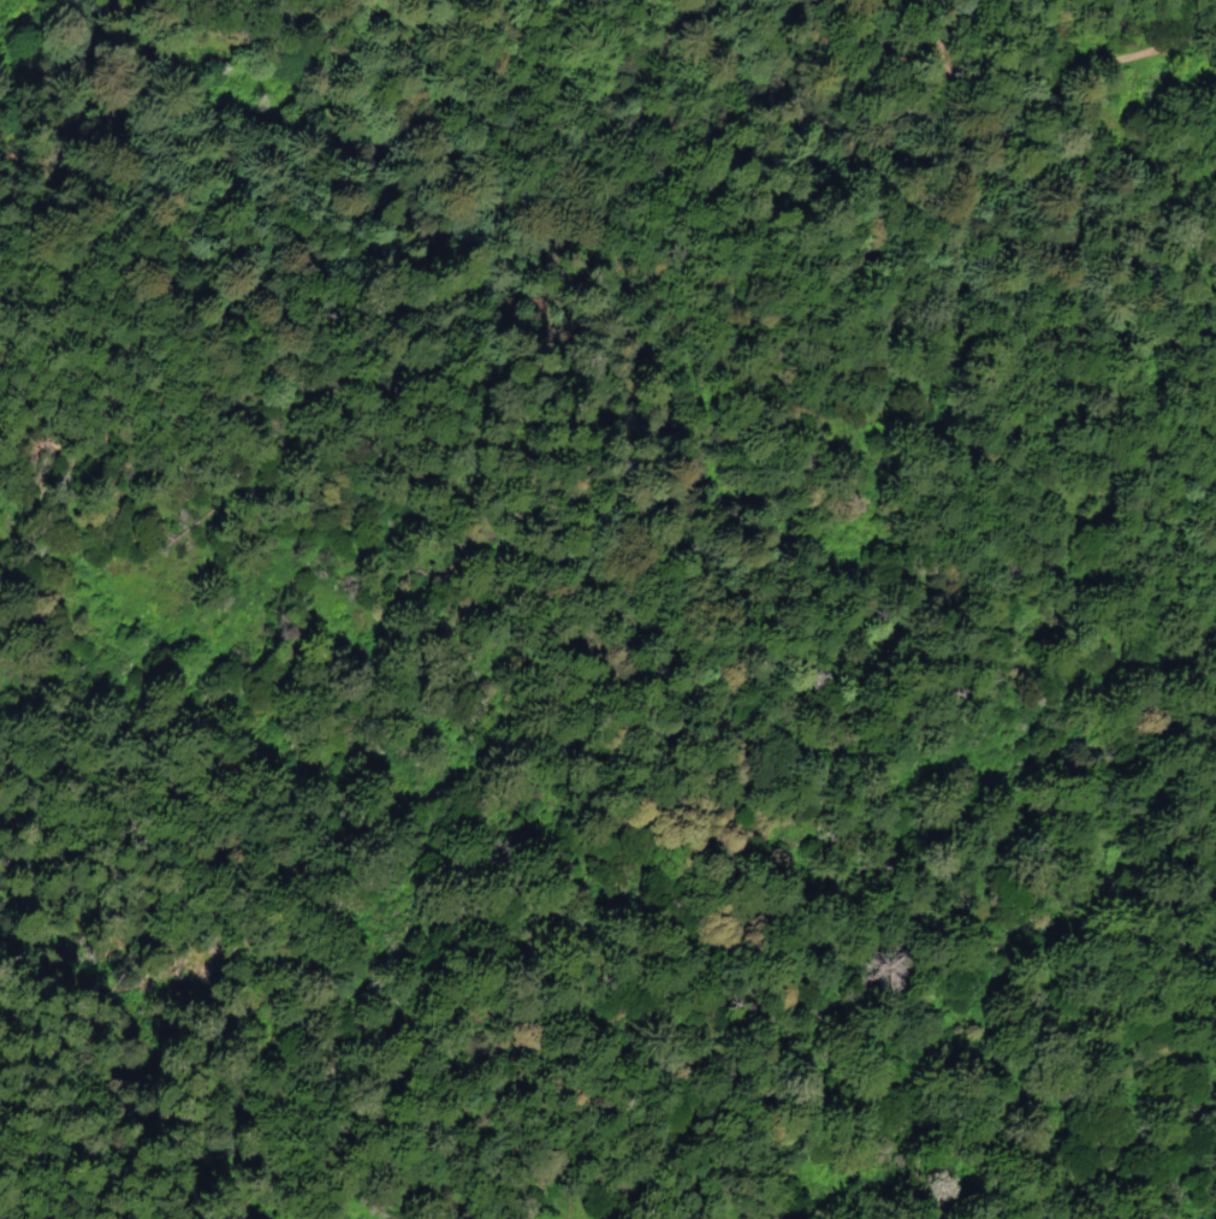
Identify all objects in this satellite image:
road: (1208, 58)
road: (1050, 75)

